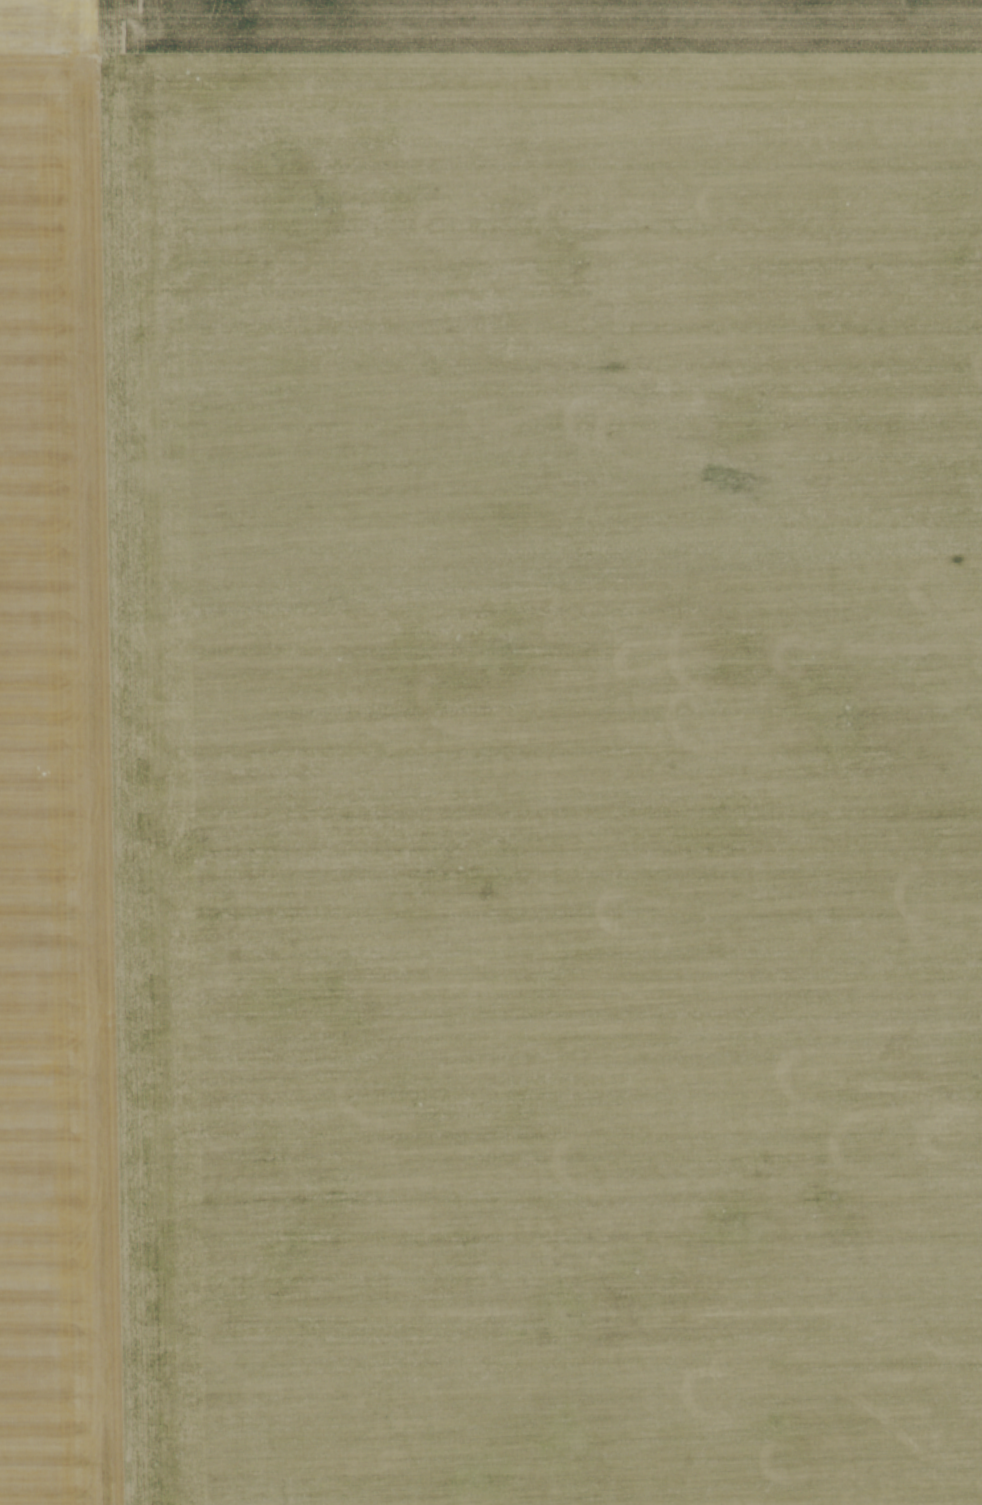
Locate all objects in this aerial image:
crop: (488, 785)

